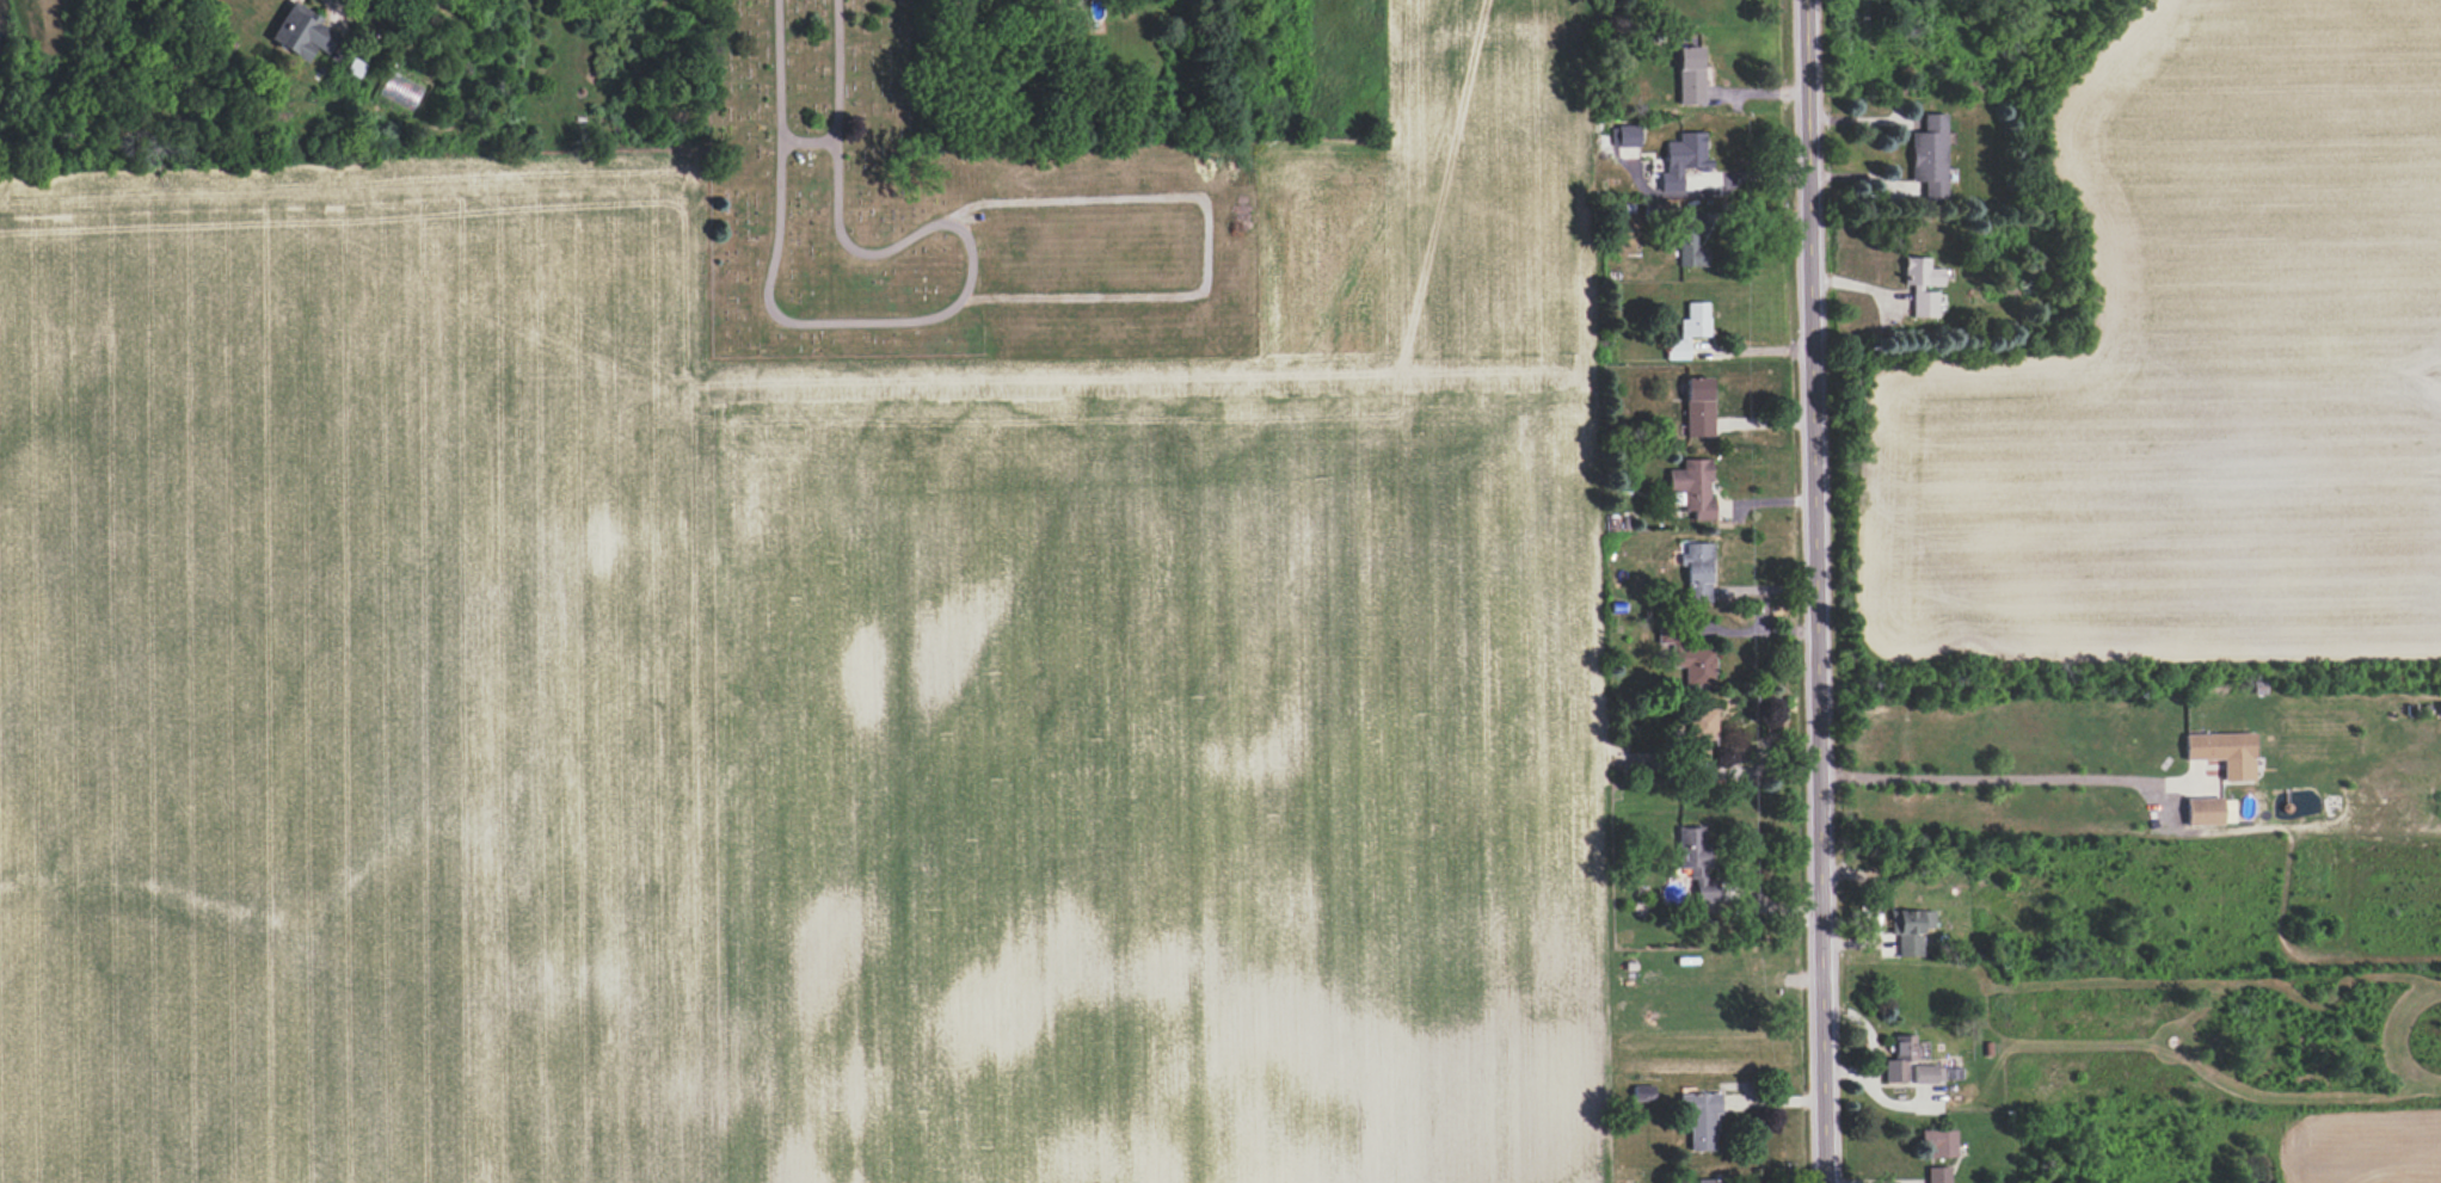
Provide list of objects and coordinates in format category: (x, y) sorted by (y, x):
building: (1070, 2)
building: (301, 32)
building: (1689, 75)
building: (1627, 136)
building: (1929, 155)
building: (1683, 159)
park: (829, 191)
building: (1690, 239)
building: (1916, 288)
building: (1689, 329)
building: (1697, 407)
building: (1692, 487)
road: (1814, 591)
building: (1695, 666)
building: (1701, 733)
building: (2222, 752)
road: (1985, 776)
building: (2211, 811)
building: (1696, 863)
building: (1910, 930)
building: (1900, 1058)
building: (1929, 1073)
building: (1701, 1119)
building: (1939, 1142)
building: (1938, 1175)
building: (1707, 1181)

